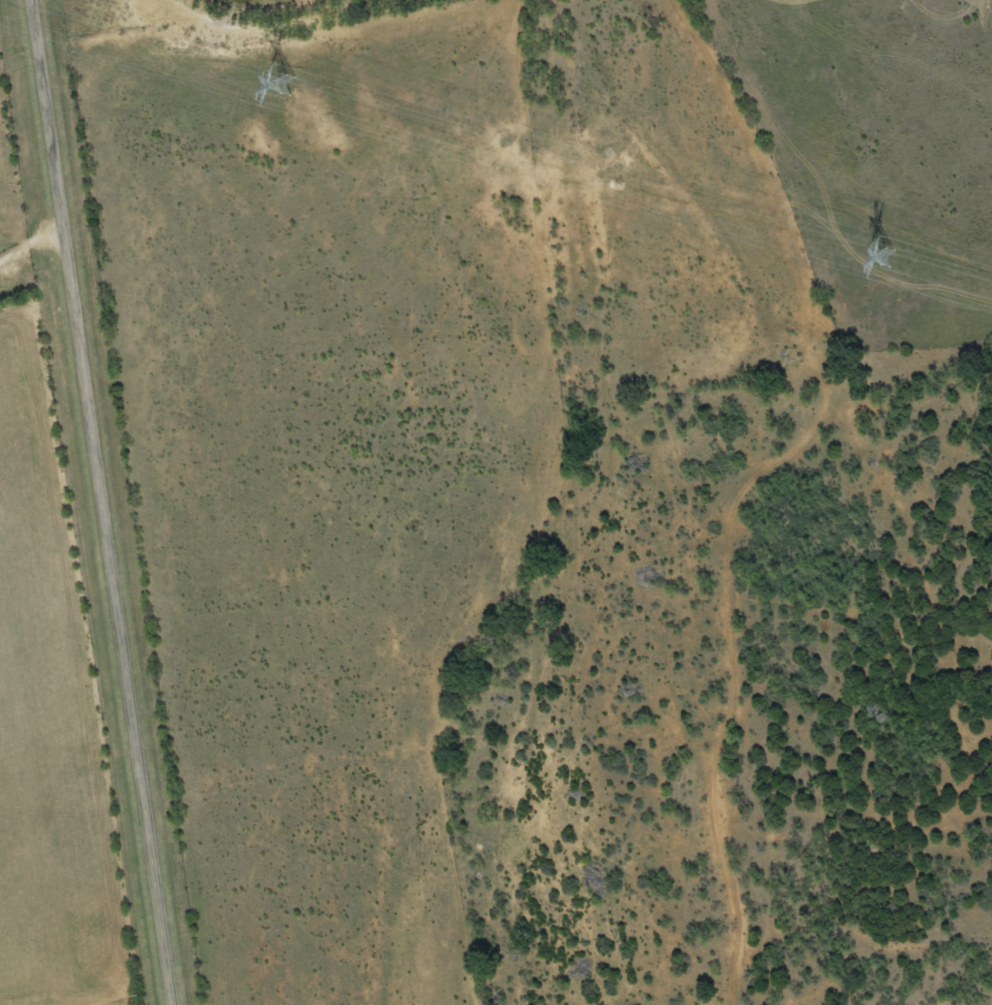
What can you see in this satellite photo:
power tower: (283, 84)
road: (33, 254)
power tower: (884, 256)
road: (104, 502)

